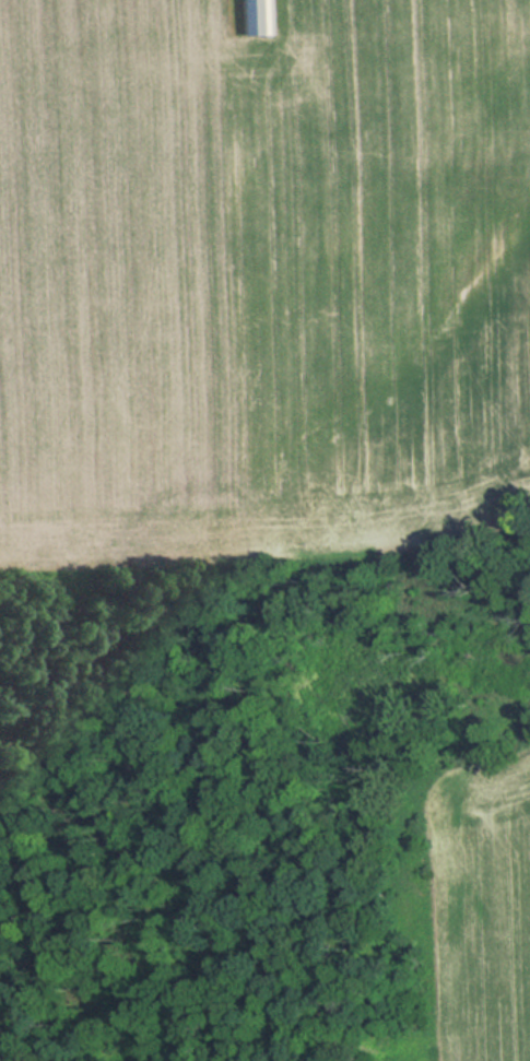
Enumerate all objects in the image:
building: (254, 16)

